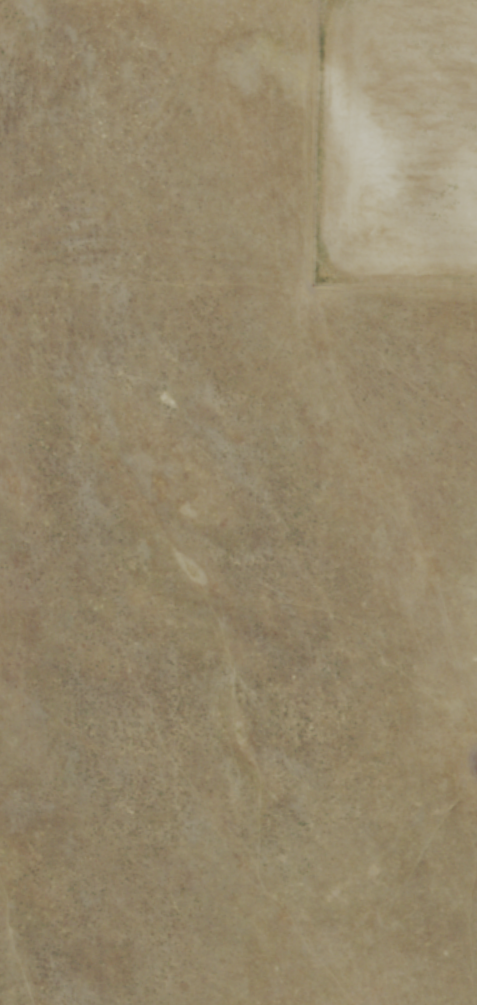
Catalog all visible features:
crop: (397, 141)

